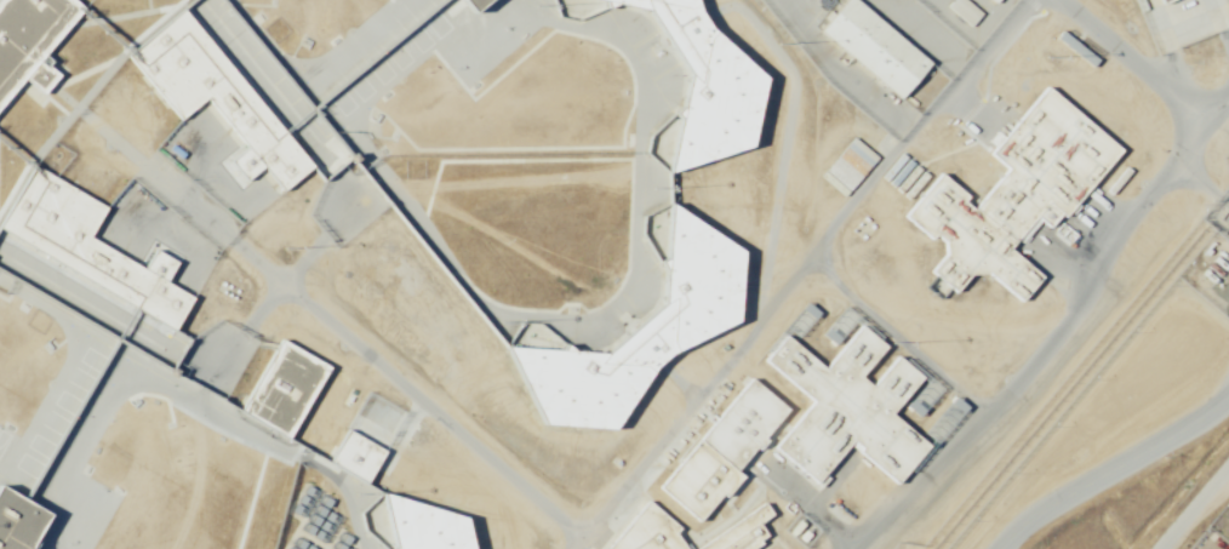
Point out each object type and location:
building: (1161, 0)
building: (470, 4)
building: (964, 12)
building: (28, 41)
building: (873, 47)
building: (692, 84)
building: (211, 93)
building: (851, 164)
building: (1010, 196)
building: (85, 246)
building: (631, 328)
building: (281, 388)
building: (842, 407)
building: (945, 419)
building: (720, 450)
road: (1111, 470)
building: (16, 522)
building: (411, 525)
building: (646, 531)
building: (741, 532)

